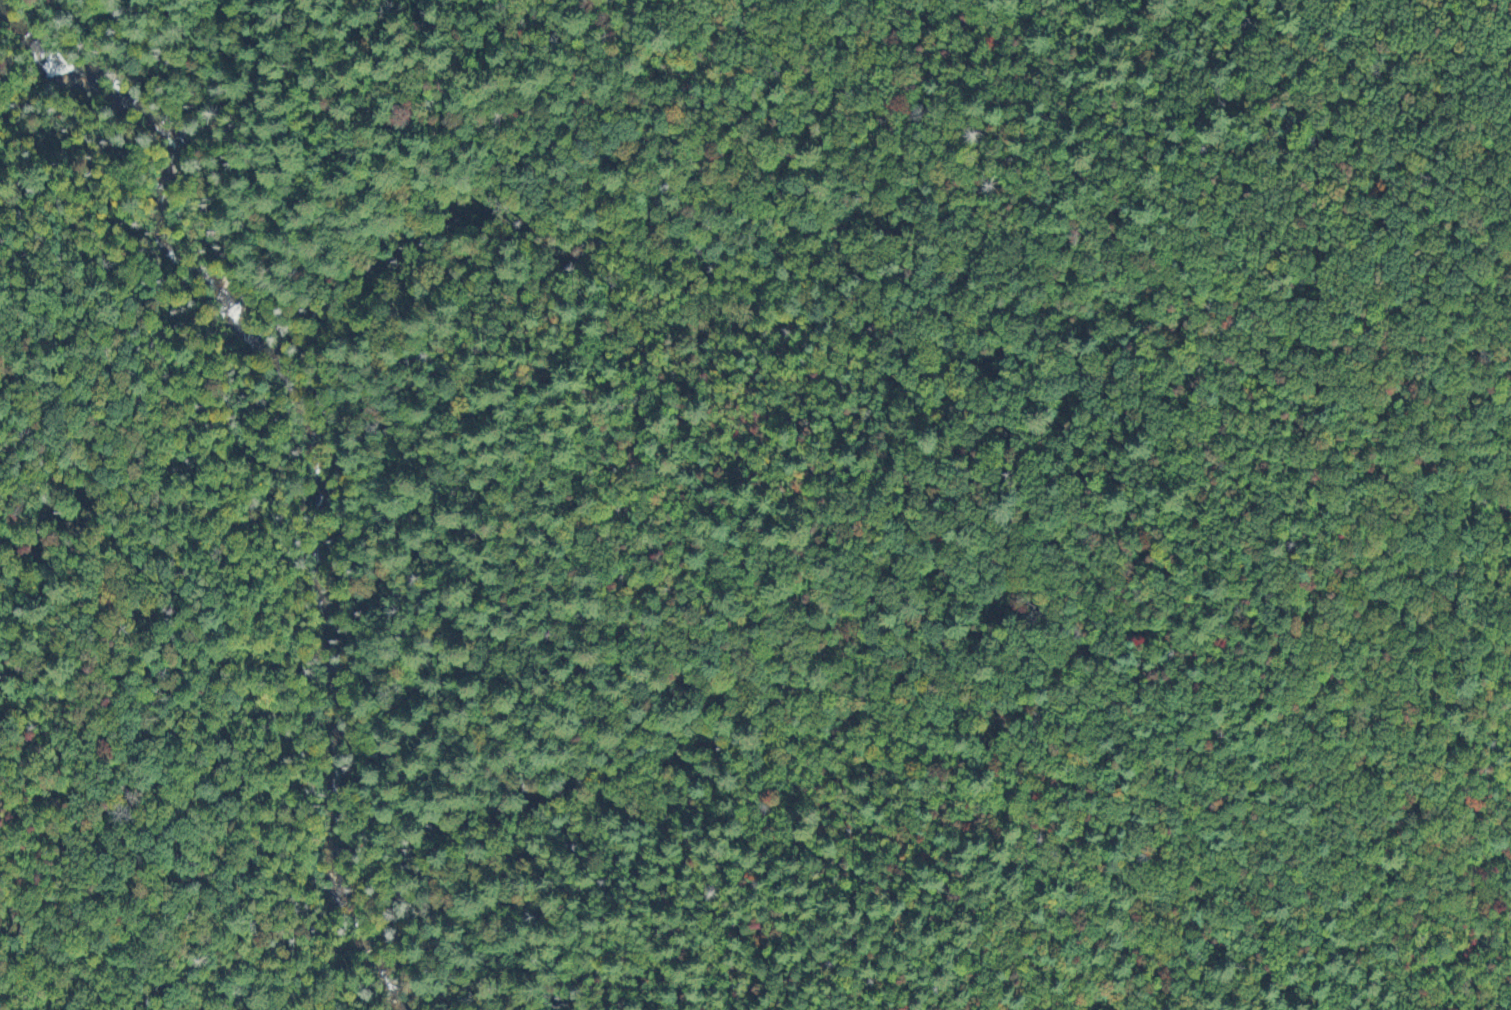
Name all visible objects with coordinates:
road: (42, 122)
road: (26, 332)
river: (315, 441)
road: (200, 555)

